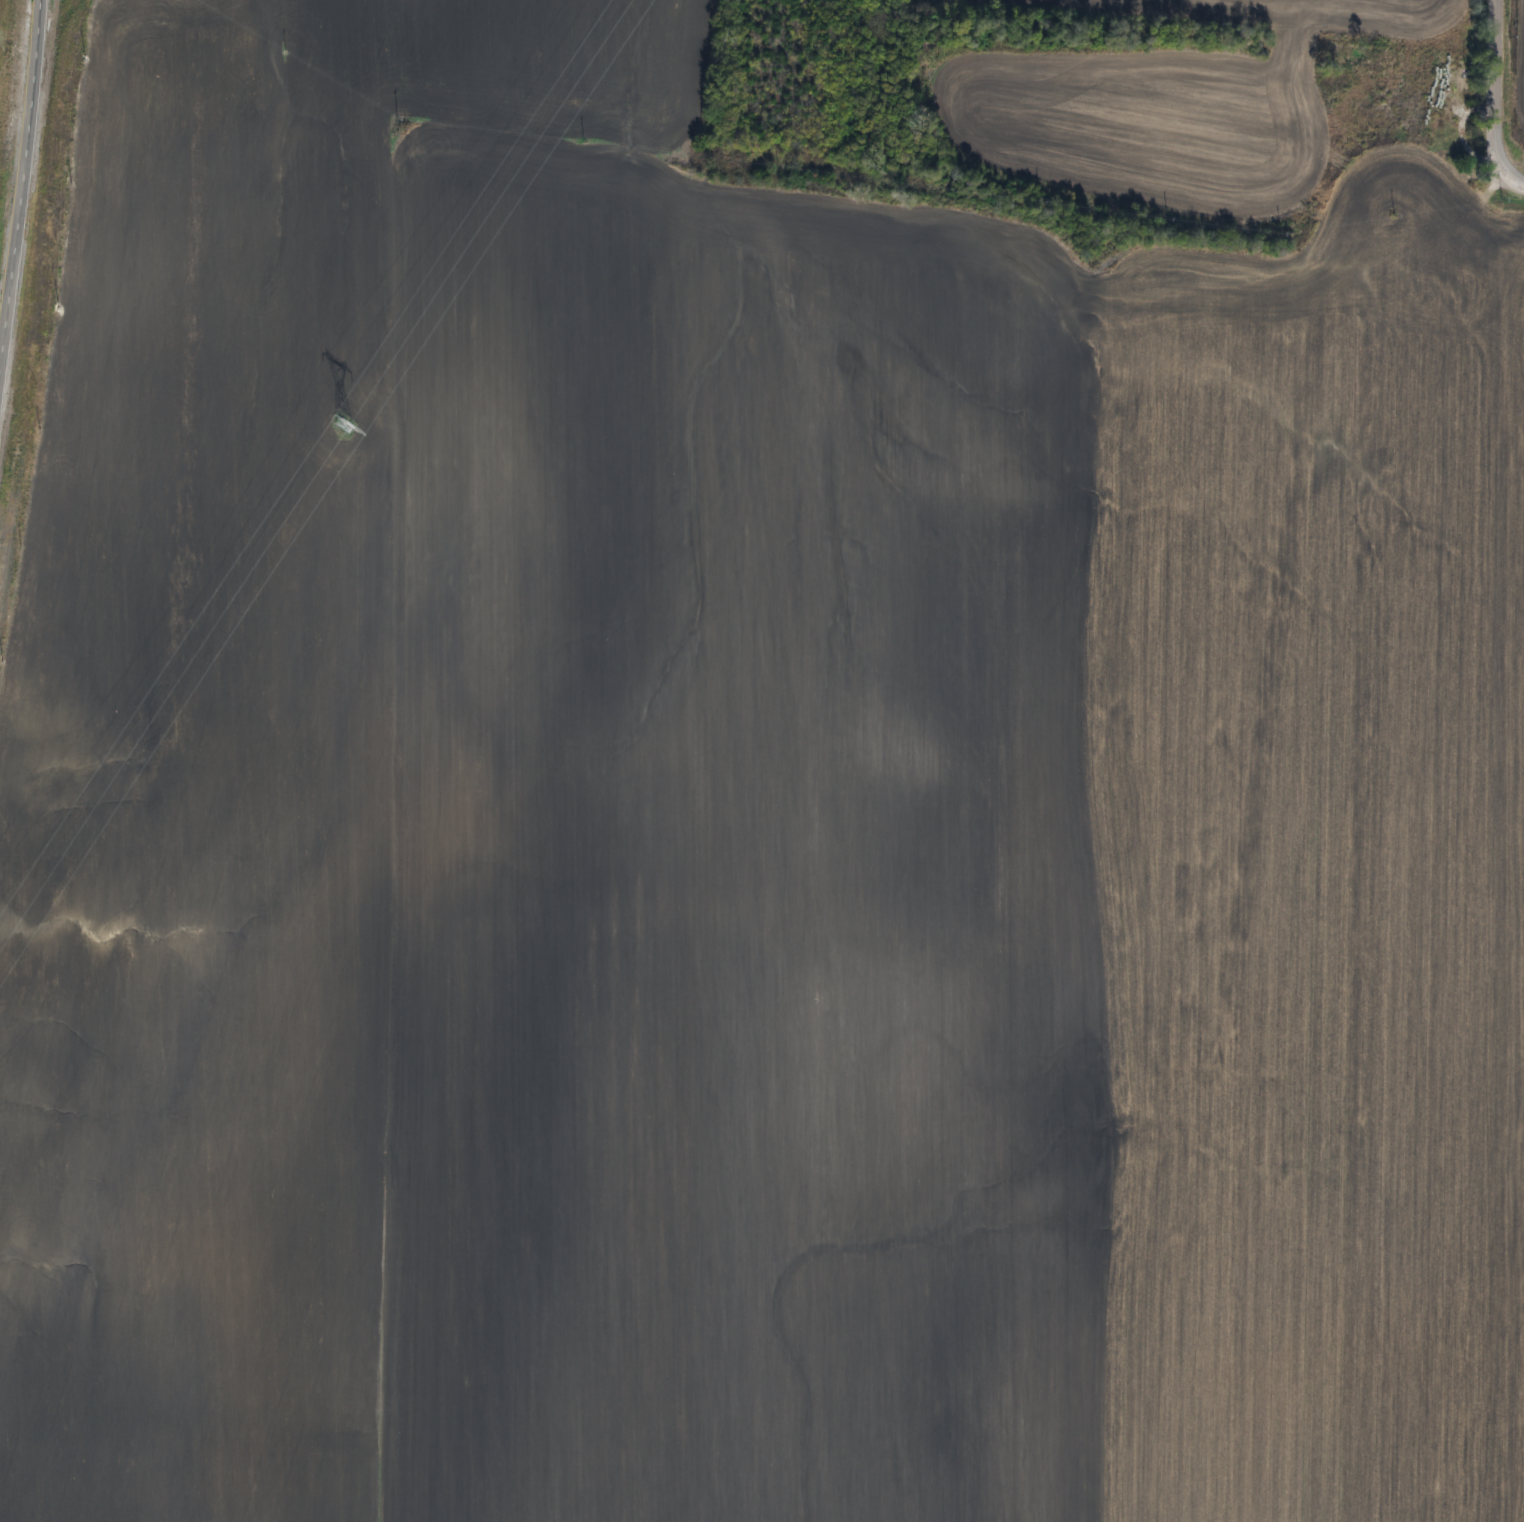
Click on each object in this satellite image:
road: (1494, 100)
building: (1437, 116)
road: (20, 172)
power tower: (338, 426)

